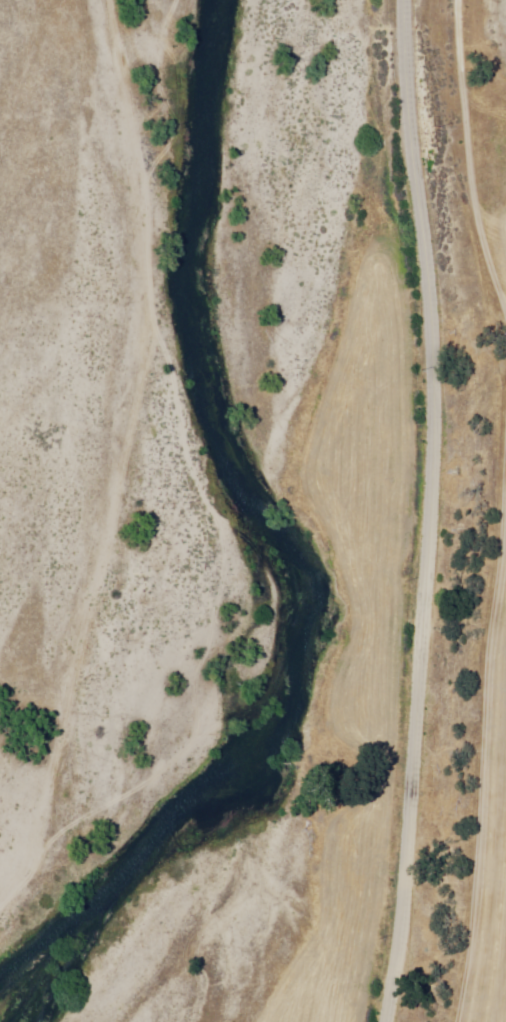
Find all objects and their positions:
crop: (498, 199)
river: (228, 237)
river: (216, 508)
road: (428, 511)
river: (185, 575)
river: (163, 648)
river: (137, 716)
crop: (486, 795)
river: (87, 889)

